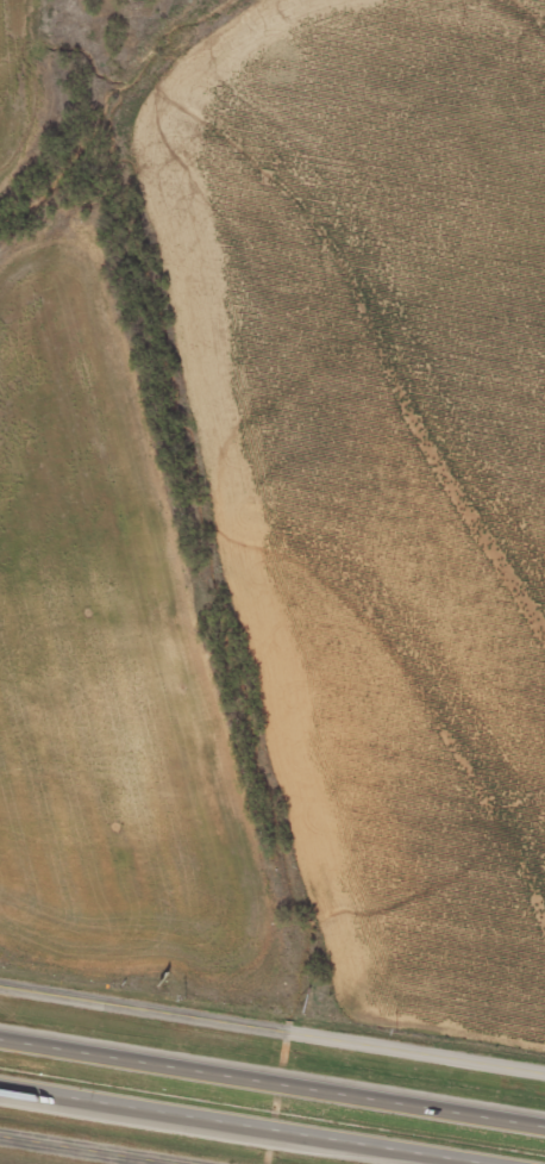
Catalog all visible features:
road: (272, 1033)
road: (272, 1087)
road: (239, 1128)
road: (88, 1150)

